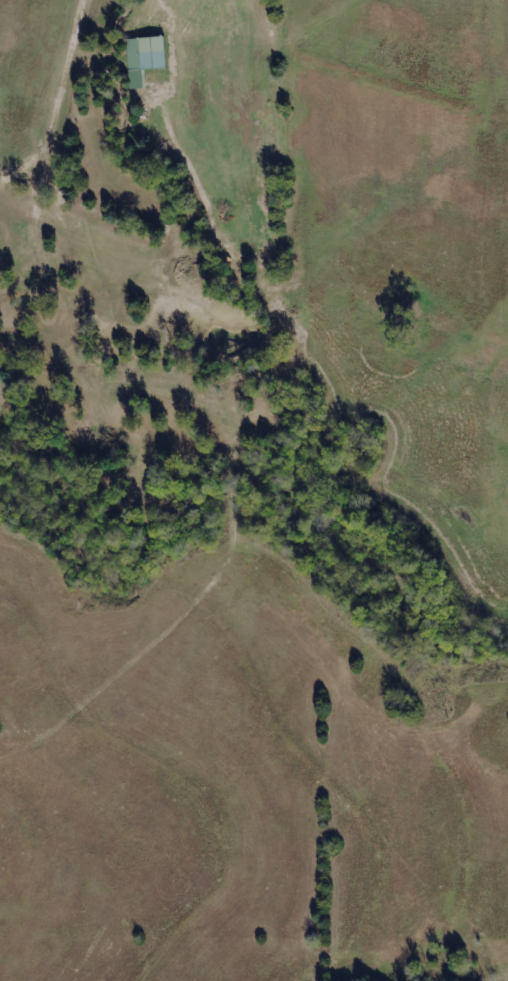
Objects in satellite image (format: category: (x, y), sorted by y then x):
building: (151, 53)

